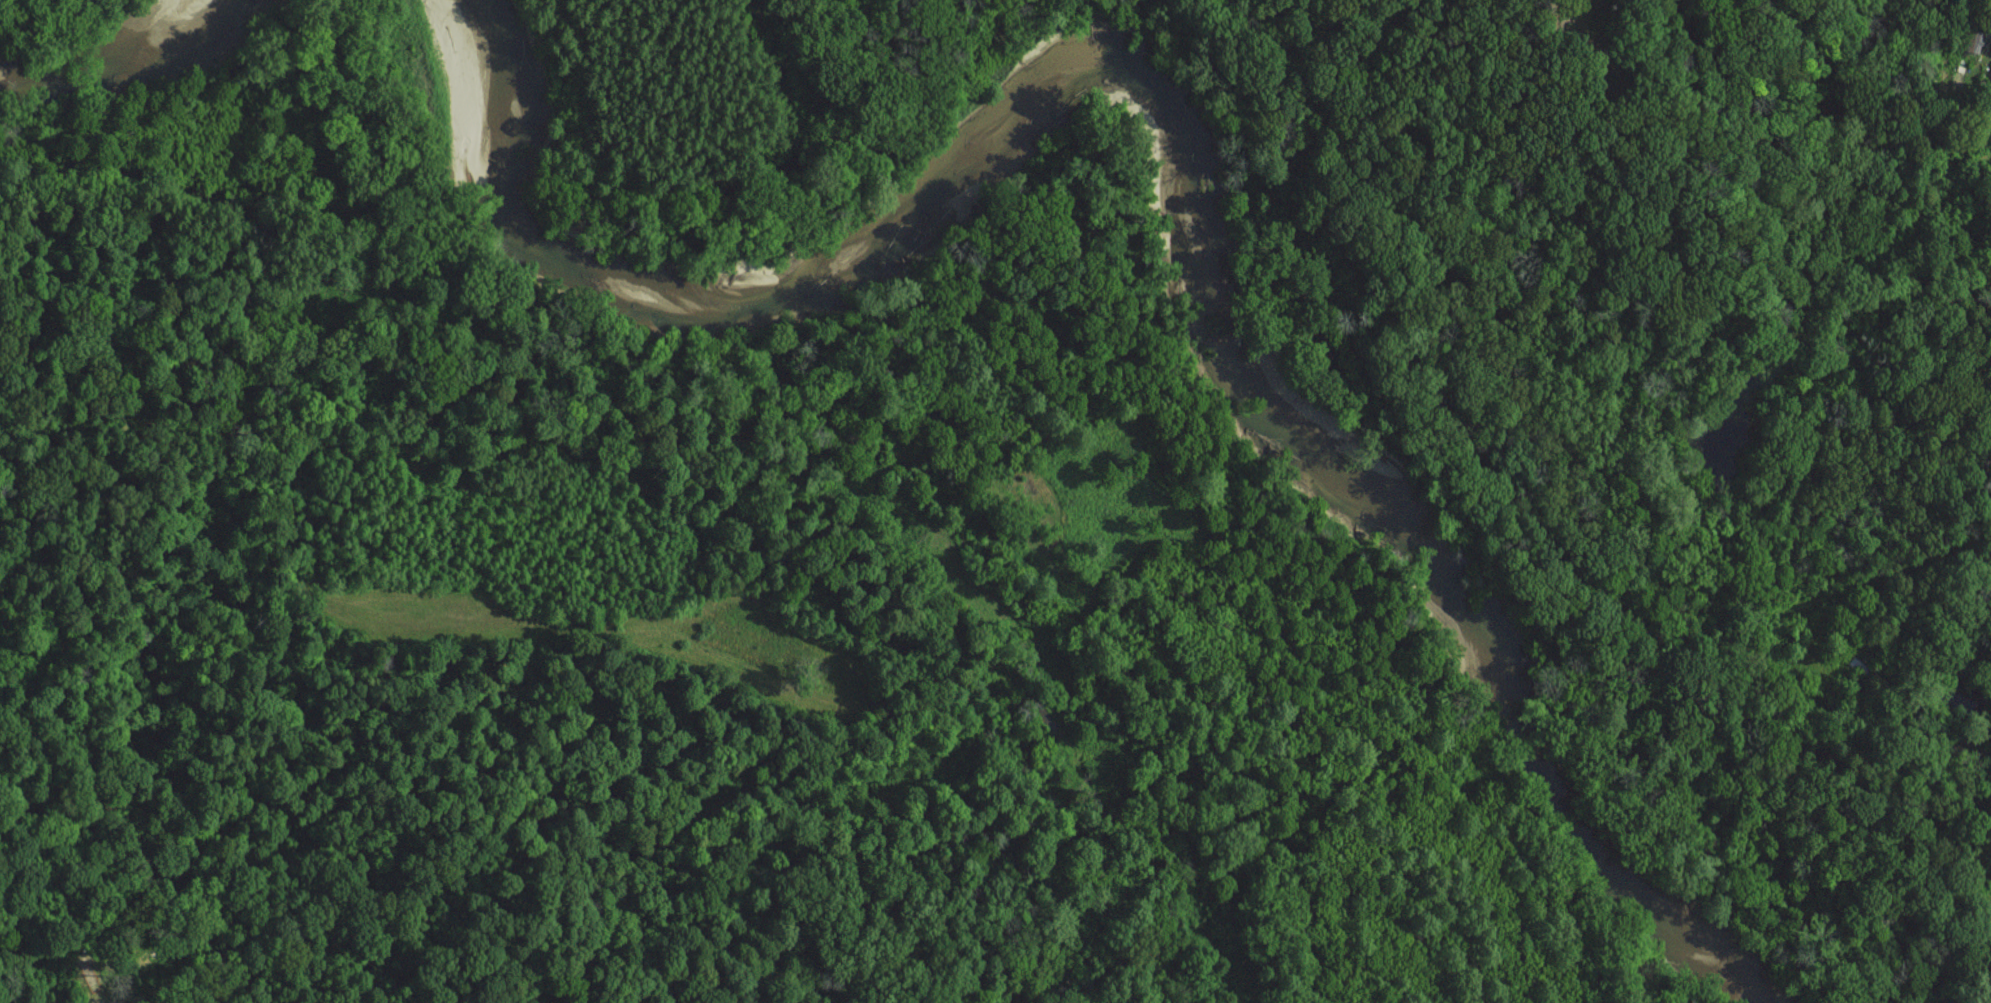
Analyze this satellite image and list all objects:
building: (1968, 42)
river: (127, 73)
river: (1195, 165)

